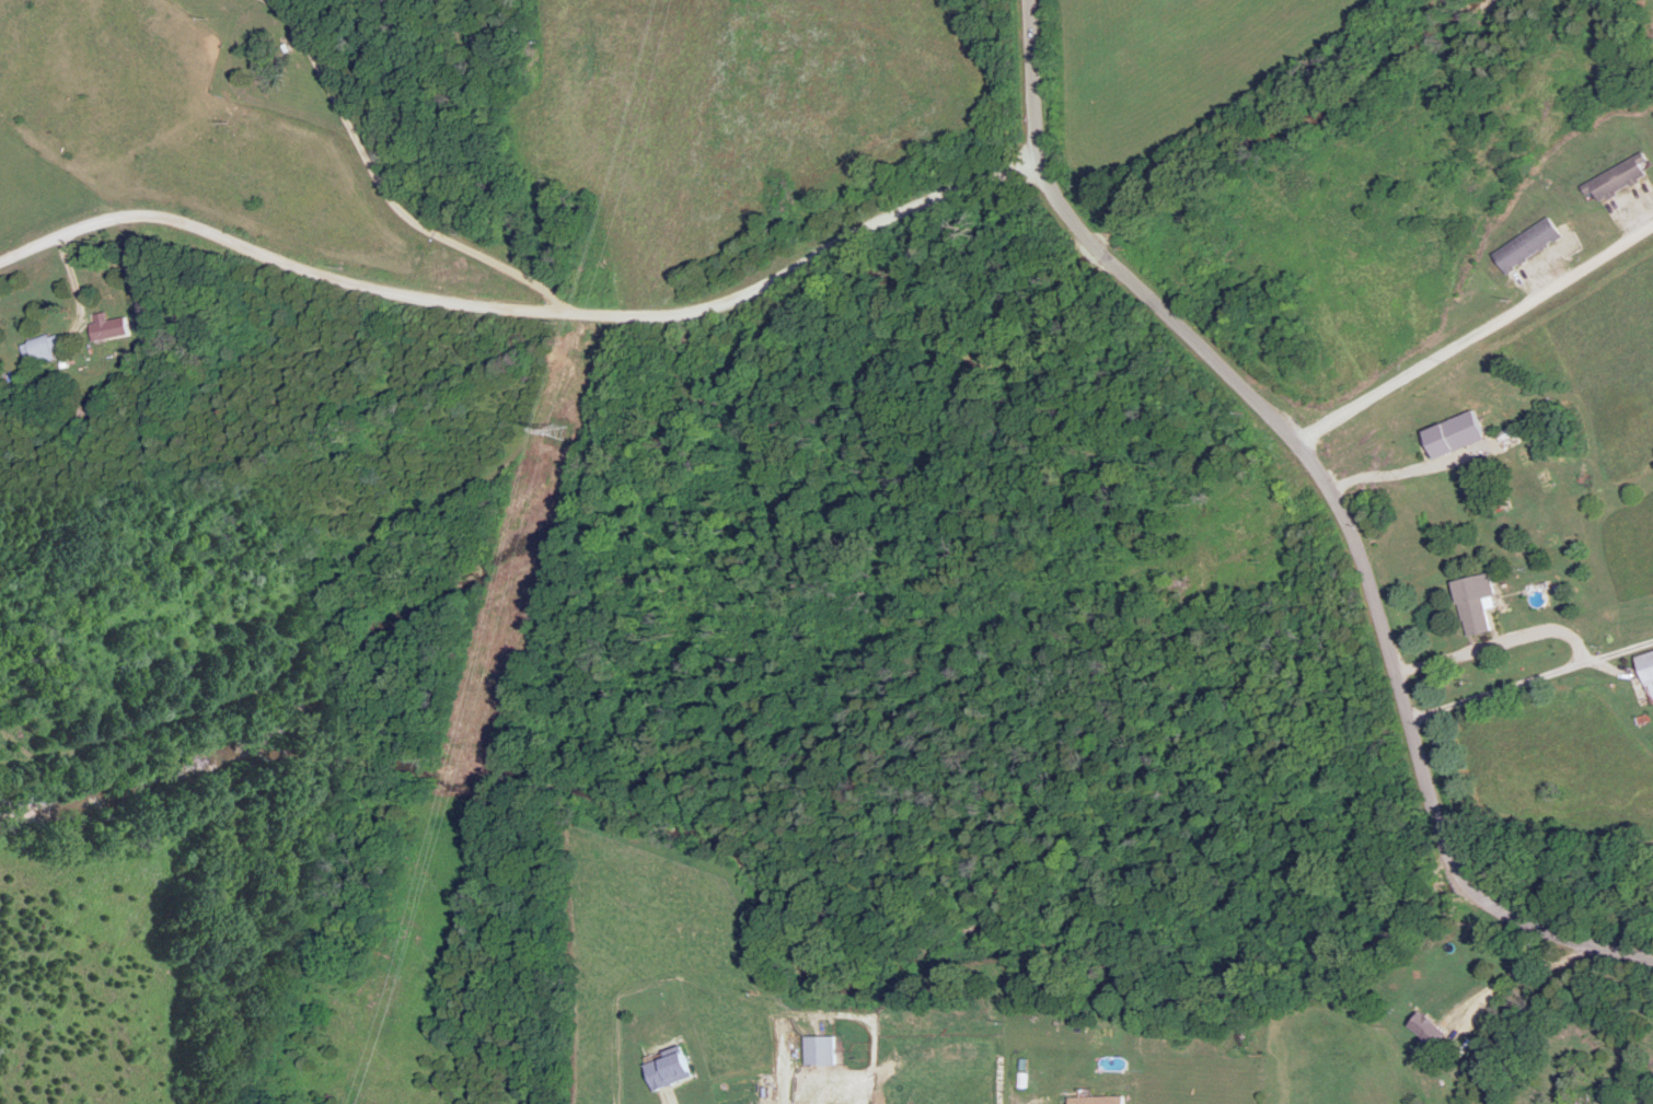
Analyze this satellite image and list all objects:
building: (1622, 177)
building: (1531, 243)
road: (531, 303)
building: (108, 324)
road: (1475, 332)
building: (42, 347)
road: (1264, 405)
building: (1511, 437)
building: (1476, 600)
building: (1648, 669)
road: (1529, 678)
road: (1468, 884)
road: (1573, 933)
road: (1550, 979)
building: (1427, 1026)
building: (820, 1048)
building: (669, 1068)
building: (1097, 1099)

